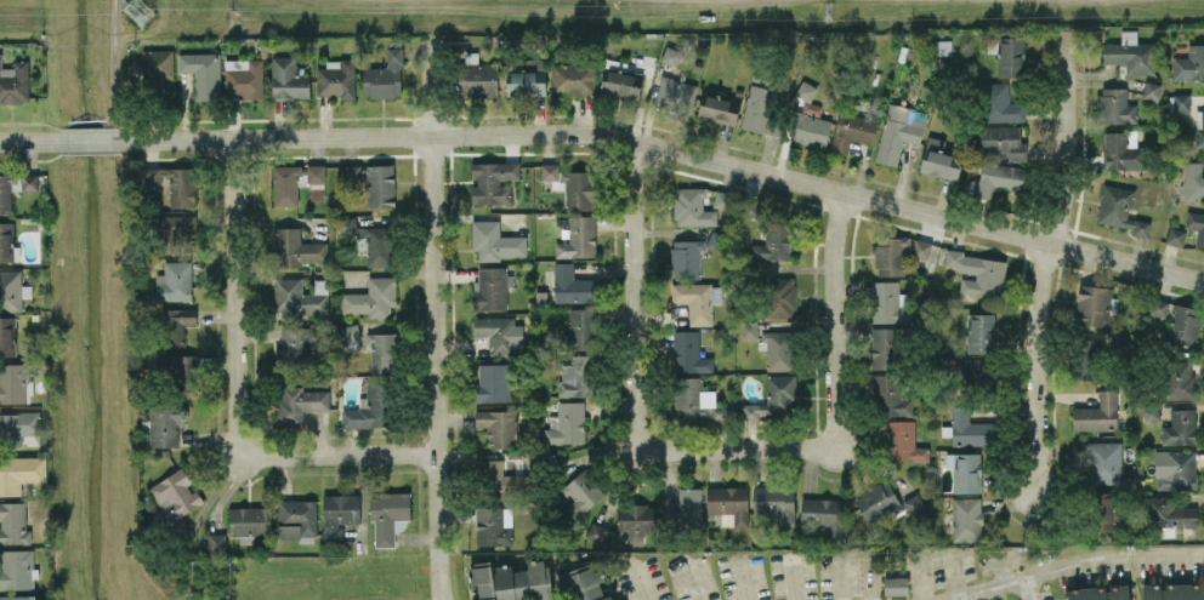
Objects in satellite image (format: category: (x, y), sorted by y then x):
power tower: (137, 8)
power tower: (829, 12)
building: (938, 46)
building: (1130, 53)
building: (1007, 55)
building: (671, 56)
road: (53, 62)
building: (1189, 63)
building: (158, 64)
road: (115, 70)
building: (203, 73)
building: (526, 75)
building: (384, 76)
building: (335, 78)
building: (244, 79)
building: (288, 79)
building: (477, 79)
building: (572, 79)
building: (13, 81)
building: (620, 84)
building: (1151, 90)
building: (675, 93)
building: (1181, 102)
building: (1001, 103)
building: (1115, 105)
building: (759, 108)
building: (719, 109)
building: (810, 119)
building: (1200, 124)
road: (59, 127)
building: (852, 130)
building: (898, 131)
road: (90, 139)
road: (33, 141)
building: (1003, 141)
road: (666, 147)
building: (1121, 150)
building: (939, 164)
building: (354, 172)
building: (998, 178)
building: (294, 181)
building: (493, 181)
building: (1193, 181)
building: (170, 182)
building: (572, 184)
building: (380, 185)
building: (15, 188)
building: (317, 190)
building: (689, 204)
building: (1119, 210)
building: (1196, 227)
building: (175, 230)
building: (1175, 236)
building: (579, 238)
building: (369, 239)
building: (6, 240)
building: (495, 240)
building: (774, 241)
building: (295, 247)
building: (921, 248)
building: (890, 255)
building: (686, 258)
road: (1044, 261)
building: (977, 273)
building: (174, 281)
building: (572, 285)
building: (489, 287)
building: (10, 290)
building: (779, 296)
building: (371, 297)
building: (297, 298)
building: (697, 299)
building: (888, 302)
building: (1092, 304)
building: (1155, 307)
road: (432, 310)
road: (831, 320)
building: (176, 322)
building: (1185, 325)
building: (581, 327)
building: (748, 328)
building: (981, 332)
building: (498, 333)
building: (7, 336)
building: (293, 347)
building: (884, 347)
building: (776, 348)
building: (382, 350)
building: (688, 353)
building: (1092, 359)
building: (177, 370)
building: (977, 370)
building: (577, 375)
building: (1179, 379)
building: (13, 382)
building: (492, 382)
road: (634, 393)
road: (240, 394)
building: (890, 395)
building: (773, 398)
building: (694, 399)
building: (297, 404)
building: (370, 407)
building: (1097, 412)
building: (566, 423)
building: (165, 424)
building: (18, 425)
building: (496, 427)
building: (1180, 427)
building: (967, 428)
building: (904, 442)
building: (1103, 462)
building: (1175, 469)
building: (965, 470)
building: (21, 472)
building: (175, 493)
building: (579, 493)
building: (773, 501)
building: (876, 501)
building: (913, 503)
building: (728, 504)
building: (687, 508)
building: (1103, 512)
building: (339, 513)
building: (823, 514)
building: (1166, 514)
building: (387, 515)
building: (296, 518)
building: (249, 519)
building: (966, 519)
building: (13, 522)
building: (494, 526)
building: (596, 532)
building: (216, 542)
road: (1074, 561)
road: (1001, 565)
road: (896, 566)
building: (17, 568)
road: (955, 575)
road: (743, 578)
road: (842, 578)
road: (793, 579)
building: (511, 581)
building: (584, 582)
road: (642, 582)
road: (694, 584)
building: (896, 585)
road: (1030, 585)
building: (1172, 592)
building: (1100, 593)
building: (17, 598)

